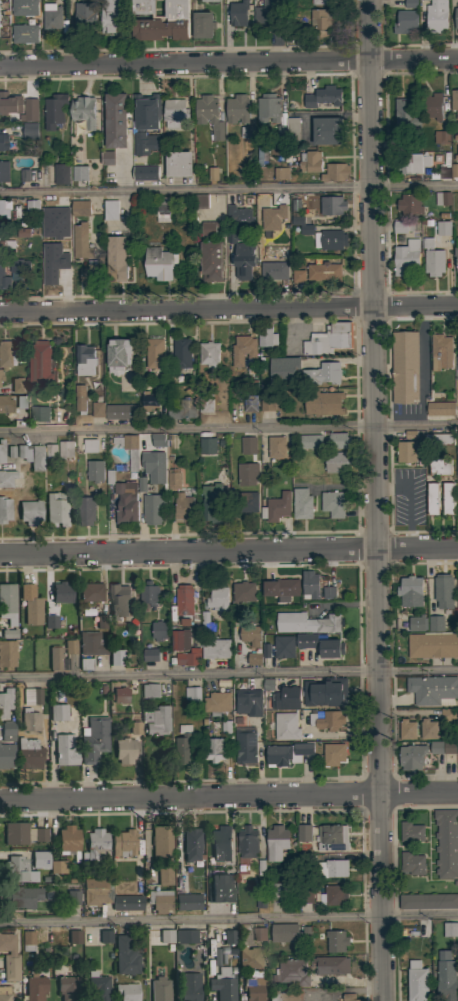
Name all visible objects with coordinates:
building: (209, 0)
building: (322, 2)
building: (410, 3)
building: (25, 7)
building: (144, 7)
building: (238, 13)
building: (85, 14)
building: (264, 14)
building: (112, 15)
building: (52, 17)
building: (436, 18)
building: (456, 18)
building: (323, 19)
building: (405, 21)
building: (164, 23)
building: (203, 25)
building: (25, 33)
road: (229, 63)
building: (323, 96)
building: (454, 101)
building: (9, 104)
building: (433, 106)
building: (268, 108)
building: (237, 109)
building: (27, 110)
building: (54, 110)
building: (84, 111)
building: (175, 113)
building: (406, 114)
building: (209, 115)
building: (116, 120)
building: (146, 122)
building: (292, 129)
building: (30, 131)
building: (327, 131)
building: (247, 132)
building: (456, 135)
building: (441, 137)
building: (4, 142)
building: (406, 143)
building: (456, 155)
building: (107, 158)
building: (259, 158)
building: (310, 161)
building: (412, 163)
building: (178, 164)
building: (4, 171)
building: (453, 171)
building: (336, 172)
building: (145, 173)
building: (212, 173)
building: (280, 173)
building: (61, 174)
building: (76, 174)
building: (24, 176)
road: (229, 191)
building: (443, 198)
building: (201, 201)
building: (409, 204)
building: (332, 205)
building: (31, 206)
building: (296, 206)
building: (4, 207)
building: (47, 208)
building: (81, 208)
building: (163, 209)
building: (111, 210)
building: (273, 217)
building: (302, 225)
building: (403, 226)
building: (209, 227)
building: (438, 227)
building: (19, 234)
building: (333, 240)
building: (231, 241)
building: (80, 242)
building: (7, 249)
building: (406, 256)
building: (456, 257)
building: (117, 258)
building: (432, 258)
building: (57, 260)
building: (211, 261)
building: (160, 263)
building: (19, 265)
building: (274, 270)
building: (328, 271)
building: (89, 274)
building: (299, 276)
building: (4, 278)
road: (229, 308)
building: (266, 336)
building: (328, 339)
building: (457, 348)
building: (243, 350)
building: (442, 350)
building: (155, 353)
building: (182, 353)
building: (209, 353)
building: (6, 354)
building: (119, 355)
building: (85, 358)
building: (41, 362)
road: (424, 365)
building: (404, 367)
building: (283, 370)
building: (1, 373)
building: (322, 374)
building: (455, 376)
building: (17, 385)
building: (149, 401)
building: (267, 402)
building: (80, 403)
building: (205, 403)
building: (250, 403)
building: (323, 403)
building: (5, 404)
building: (441, 408)
building: (98, 409)
building: (182, 410)
building: (121, 412)
building: (39, 413)
road: (229, 429)
building: (439, 439)
building: (338, 440)
building: (155, 441)
building: (310, 442)
building: (248, 445)
building: (90, 446)
building: (207, 446)
building: (276, 447)
building: (66, 448)
building: (129, 449)
building: (2, 451)
building: (50, 451)
building: (406, 452)
building: (29, 455)
building: (336, 462)
building: (457, 462)
building: (439, 467)
building: (151, 468)
building: (95, 471)
building: (247, 474)
building: (11, 478)
building: (173, 480)
building: (142, 484)
building: (432, 498)
building: (448, 498)
building: (456, 499)
road: (376, 500)
building: (244, 501)
building: (126, 502)
building: (212, 503)
building: (302, 504)
building: (331, 504)
building: (277, 507)
building: (183, 508)
building: (4, 509)
building: (56, 509)
building: (153, 509)
building: (86, 510)
building: (29, 511)
road: (229, 552)
building: (310, 585)
road: (174, 586)
building: (281, 588)
building: (443, 590)
building: (243, 591)
building: (410, 591)
building: (61, 592)
building: (91, 592)
building: (329, 592)
building: (149, 593)
building: (219, 597)
building: (119, 600)
building: (184, 600)
building: (8, 601)
building: (30, 604)
building: (457, 611)
building: (50, 621)
building: (101, 621)
building: (206, 621)
building: (307, 623)
building: (436, 623)
building: (416, 624)
building: (159, 630)
building: (9, 633)
building: (250, 634)
building: (180, 639)
building: (91, 643)
building: (307, 645)
building: (433, 645)
building: (70, 646)
building: (215, 648)
building: (264, 651)
building: (7, 653)
building: (151, 654)
building: (117, 656)
building: (188, 657)
building: (303, 657)
building: (253, 658)
building: (57, 659)
building: (85, 663)
road: (228, 673)
building: (268, 684)
building: (432, 689)
building: (150, 690)
building: (326, 692)
building: (192, 693)
building: (119, 694)
building: (32, 696)
building: (286, 698)
building: (5, 701)
building: (248, 702)
building: (217, 703)
building: (58, 712)
building: (447, 715)
building: (30, 719)
building: (327, 719)
building: (158, 722)
building: (226, 726)
building: (286, 726)
building: (135, 727)
building: (407, 729)
building: (428, 729)
building: (7, 730)
building: (93, 738)
building: (184, 746)
building: (245, 746)
building: (214, 749)
building: (64, 750)
building: (124, 750)
building: (422, 752)
building: (30, 754)
building: (287, 754)
building: (334, 754)
building: (6, 756)
building: (457, 759)
road: (228, 795)
building: (411, 831)
building: (304, 832)
building: (22, 833)
building: (68, 838)
building: (332, 838)
building: (247, 841)
building: (222, 842)
building: (276, 842)
building: (123, 843)
building: (161, 843)
building: (446, 843)
building: (96, 844)
building: (191, 844)
building: (39, 859)
building: (412, 863)
building: (57, 866)
building: (332, 868)
building: (18, 869)
building: (164, 874)
building: (276, 890)
building: (96, 891)
building: (335, 895)
building: (22, 896)
building: (72, 896)
building: (307, 896)
building: (159, 900)
building: (188, 901)
building: (212, 901)
building: (428, 901)
building: (126, 902)
road: (229, 919)
building: (450, 929)
building: (285, 932)
building: (304, 932)
building: (259, 934)
building: (166, 935)
building: (74, 936)
building: (105, 936)
building: (185, 936)
building: (229, 936)
building: (27, 940)
building: (336, 940)
building: (125, 955)
building: (9, 957)
building: (249, 957)
building: (330, 965)
building: (292, 972)
building: (446, 976)
building: (416, 982)
building: (222, 984)
building: (97, 986)
building: (189, 986)
building: (67, 987)
building: (35, 988)
building: (160, 989)
building: (253, 989)
building: (127, 991)
building: (4, 993)
building: (287, 997)
building: (350, 997)

